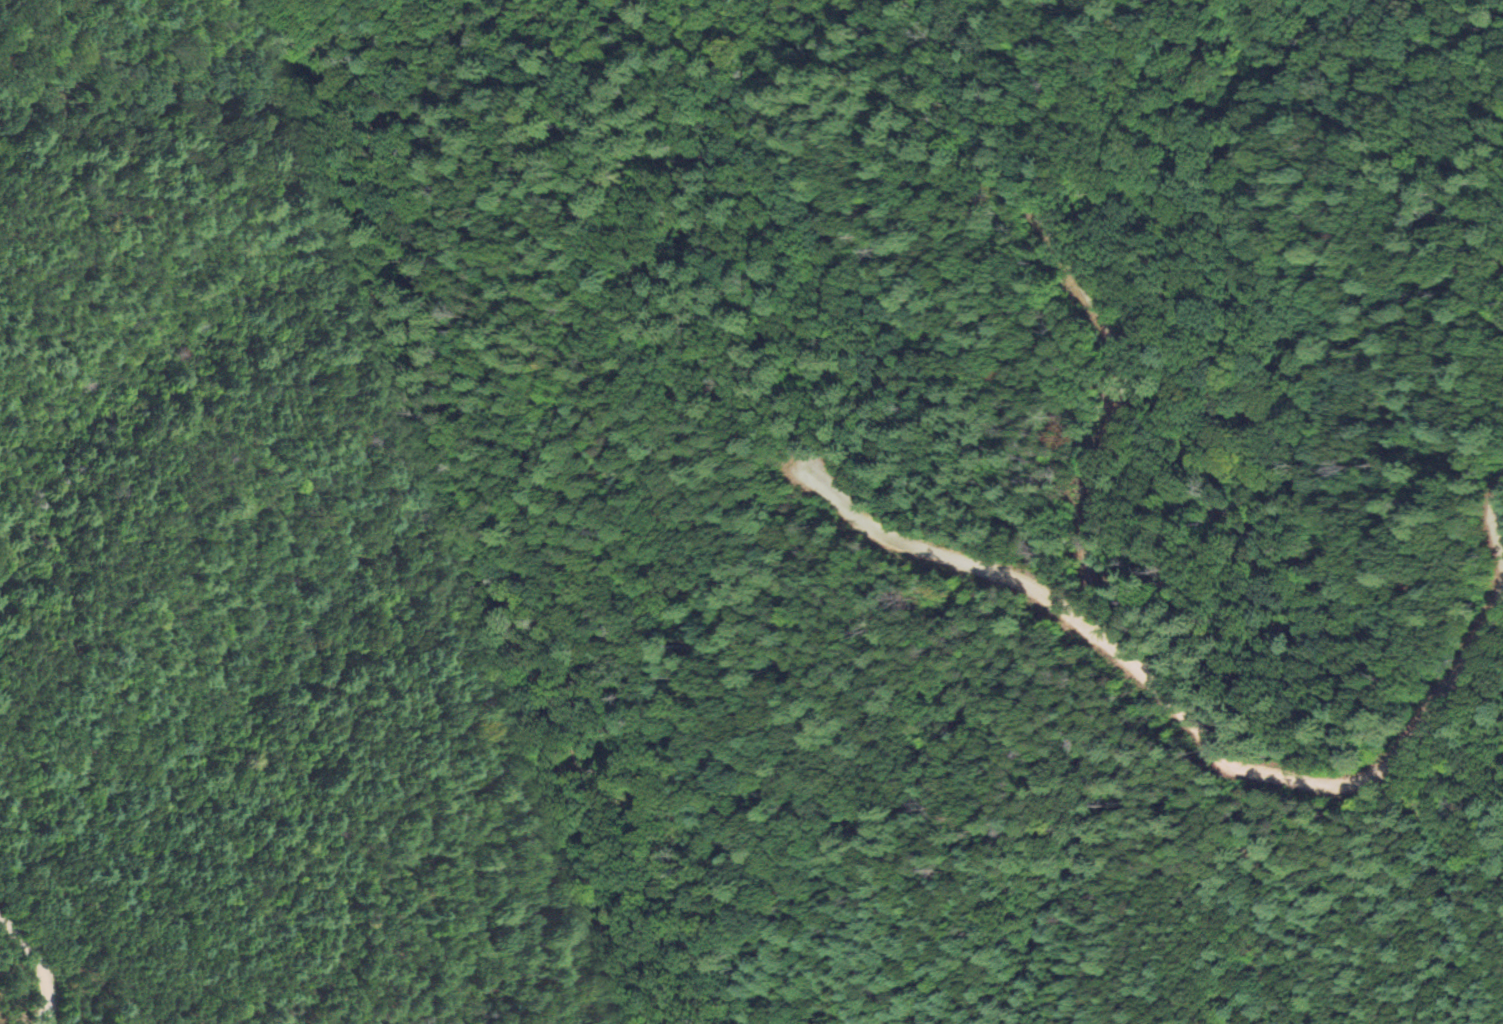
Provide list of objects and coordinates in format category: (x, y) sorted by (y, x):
road: (1500, 512)
road: (1208, 743)
road: (39, 965)

